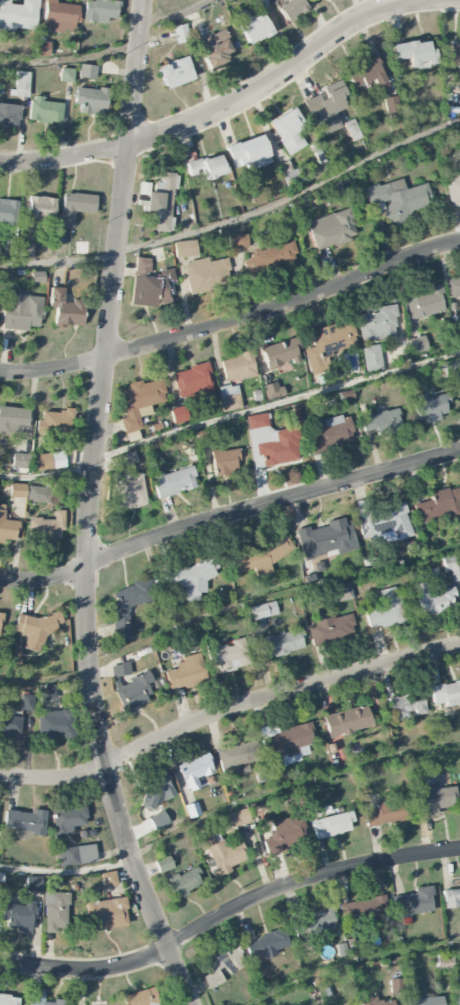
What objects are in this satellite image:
building: (291, 8)
building: (99, 10)
building: (59, 14)
building: (18, 15)
road: (178, 16)
building: (252, 26)
building: (181, 33)
building: (42, 48)
building: (215, 49)
building: (414, 53)
building: (454, 54)
road: (71, 59)
building: (87, 71)
building: (175, 72)
building: (366, 74)
building: (66, 75)
building: (22, 83)
building: (0, 99)
building: (91, 100)
building: (391, 104)
building: (327, 107)
road: (220, 108)
building: (45, 111)
building: (9, 116)
building: (288, 131)
building: (248, 153)
building: (207, 167)
building: (292, 178)
building: (453, 187)
building: (400, 198)
building: (162, 203)
building: (75, 207)
building: (41, 209)
building: (8, 211)
road: (237, 218)
building: (332, 229)
building: (238, 241)
building: (25, 249)
building: (185, 249)
building: (270, 258)
building: (206, 274)
building: (150, 284)
building: (453, 287)
building: (424, 303)
building: (65, 308)
building: (22, 312)
road: (233, 322)
building: (377, 324)
building: (329, 344)
building: (418, 344)
building: (281, 353)
building: (372, 358)
building: (238, 367)
building: (192, 381)
building: (272, 390)
building: (229, 398)
building: (139, 402)
building: (428, 407)
building: (179, 414)
road: (229, 416)
building: (12, 421)
building: (382, 421)
building: (54, 423)
building: (331, 432)
building: (203, 437)
building: (271, 441)
building: (126, 459)
building: (20, 460)
building: (43, 461)
building: (226, 462)
building: (175, 481)
building: (18, 490)
building: (130, 490)
building: (40, 494)
building: (439, 505)
road: (90, 509)
road: (227, 513)
building: (385, 524)
building: (6, 527)
building: (48, 527)
building: (326, 539)
building: (258, 557)
building: (452, 566)
building: (189, 578)
building: (343, 591)
building: (434, 600)
building: (263, 610)
building: (386, 610)
road: (227, 611)
building: (0, 621)
building: (121, 622)
building: (35, 629)
building: (331, 629)
building: (283, 642)
building: (228, 654)
building: (120, 669)
building: (185, 673)
building: (47, 692)
building: (133, 693)
building: (446, 694)
building: (27, 702)
building: (406, 706)
road: (227, 710)
building: (347, 721)
building: (10, 722)
building: (54, 723)
building: (289, 740)
building: (236, 756)
building: (194, 770)
building: (157, 790)
building: (434, 801)
road: (227, 808)
building: (192, 810)
building: (386, 813)
building: (237, 817)
building: (68, 819)
building: (25, 820)
building: (158, 820)
building: (332, 825)
building: (285, 835)
building: (223, 854)
building: (76, 855)
building: (163, 864)
building: (108, 879)
building: (184, 882)
building: (33, 883)
building: (451, 898)
building: (414, 902)
building: (364, 909)
building: (56, 911)
road: (227, 911)
building: (109, 913)
building: (19, 916)
building: (321, 920)
building: (266, 945)
road: (354, 959)
building: (444, 962)
building: (223, 965)
building: (456, 997)
building: (43, 998)
building: (8, 1000)
building: (425, 1001)
building: (376, 1002)

